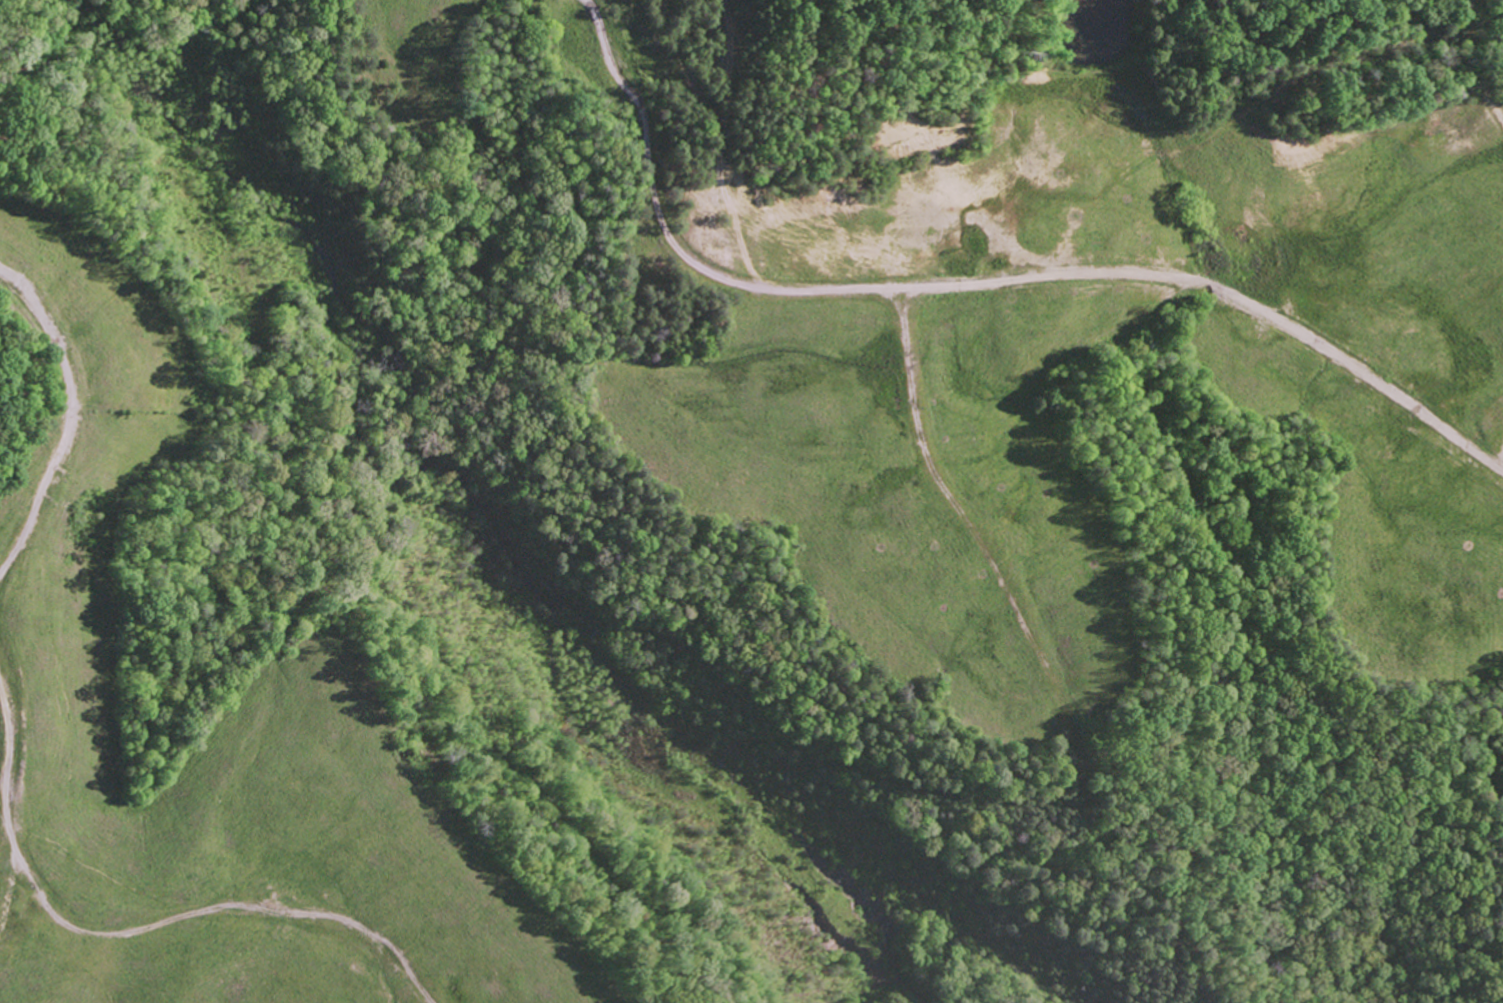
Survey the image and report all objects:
road: (977, 281)
road: (69, 414)
road: (7, 784)
road: (8, 886)
road: (226, 906)

